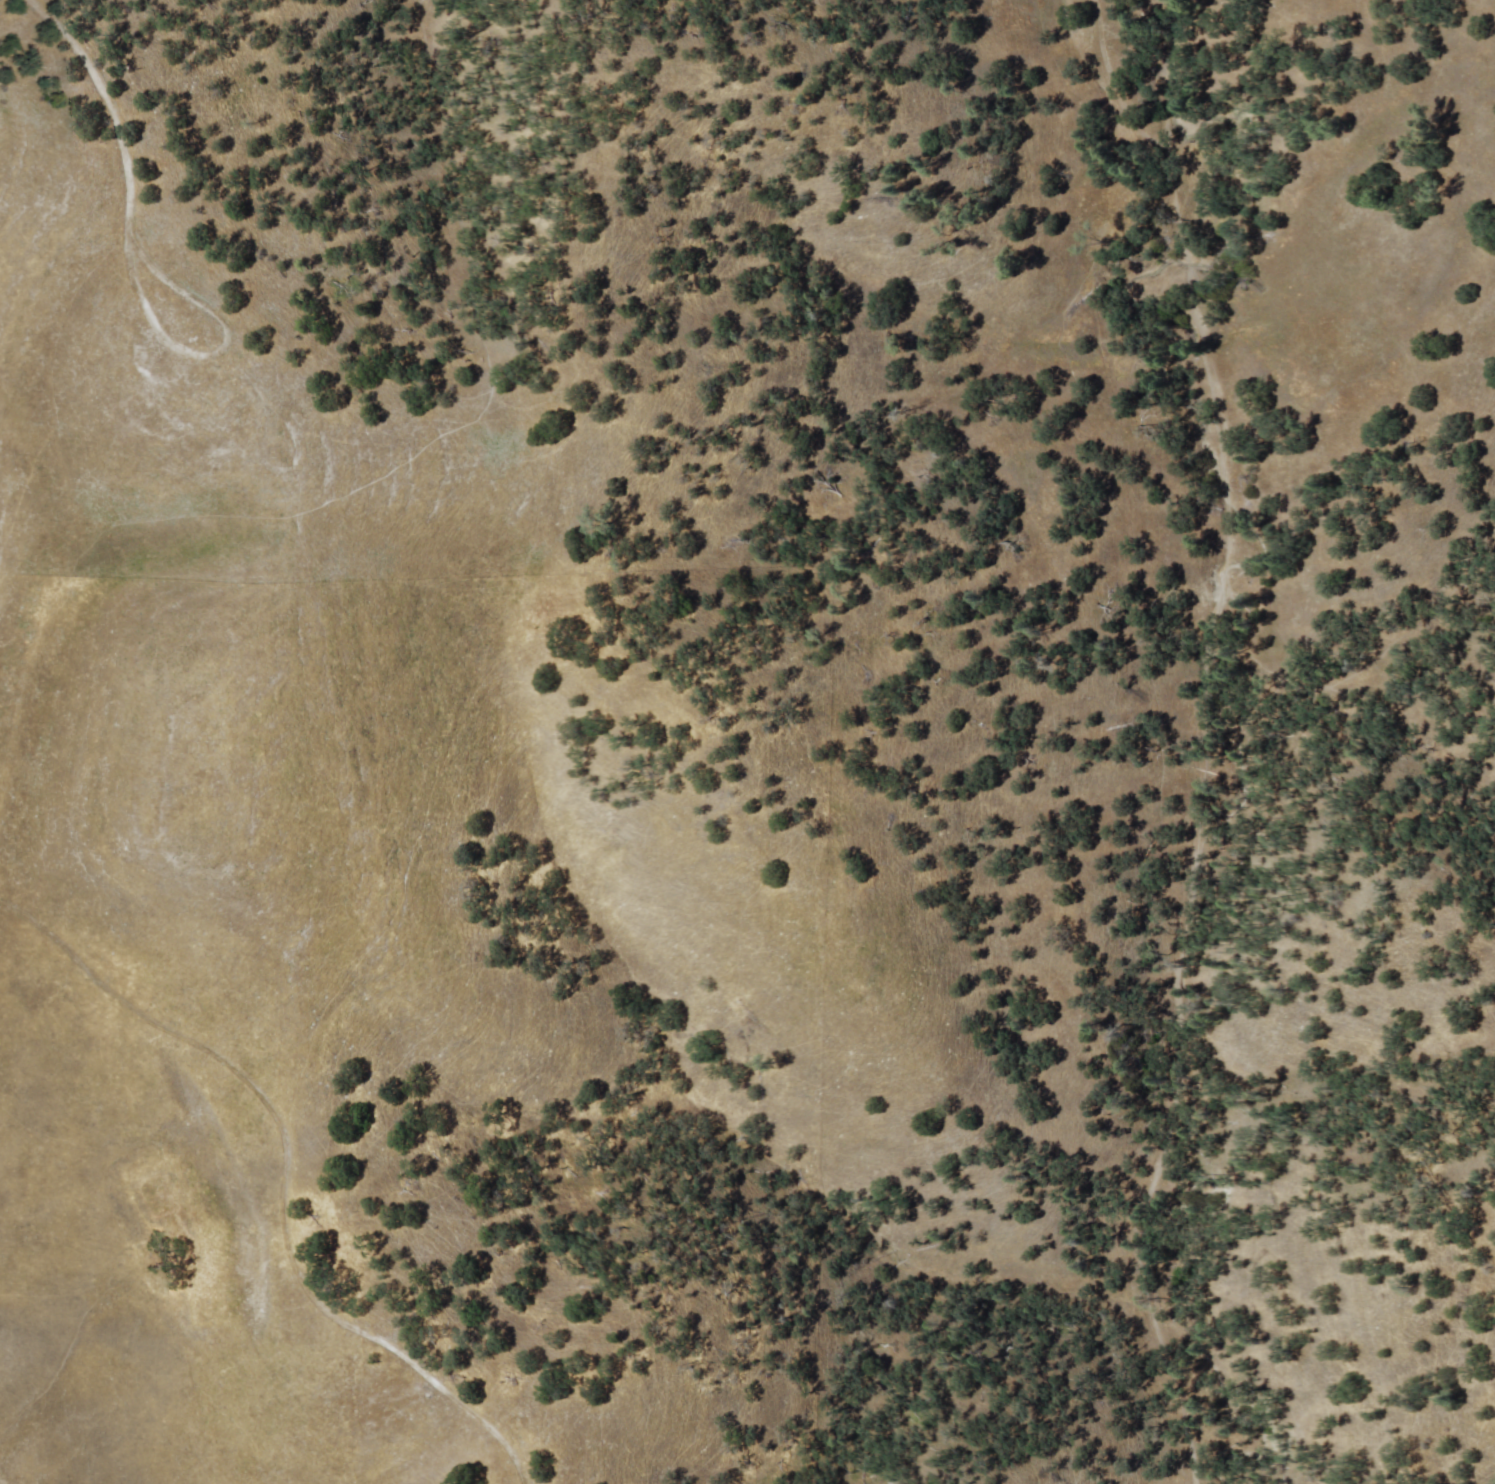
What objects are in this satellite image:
road: (85, 451)

